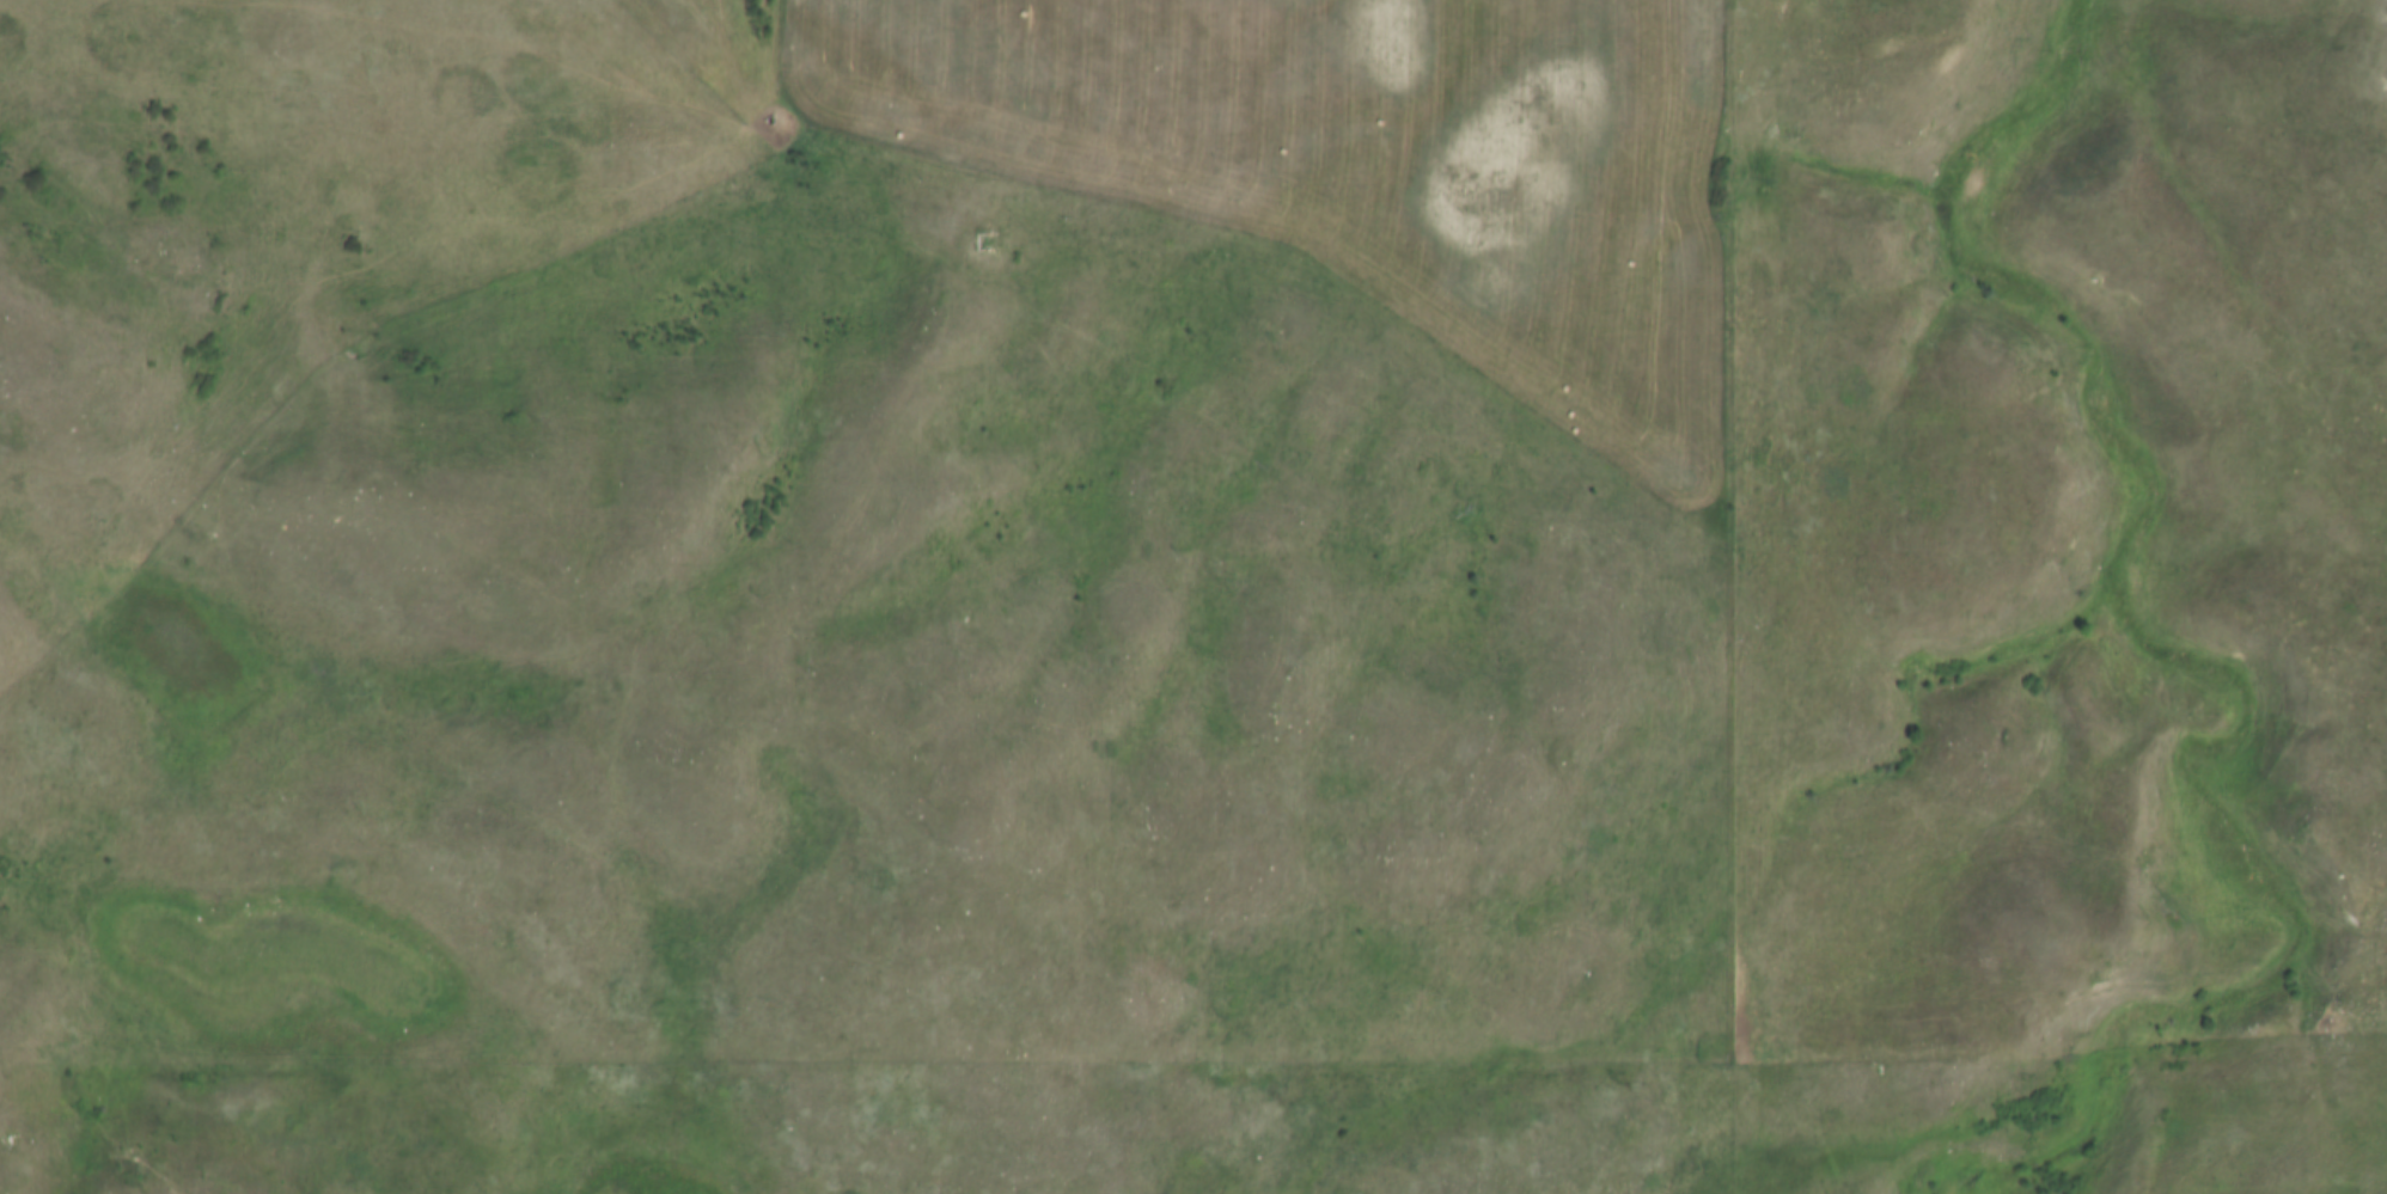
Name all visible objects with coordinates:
road: (2368, 1046)

